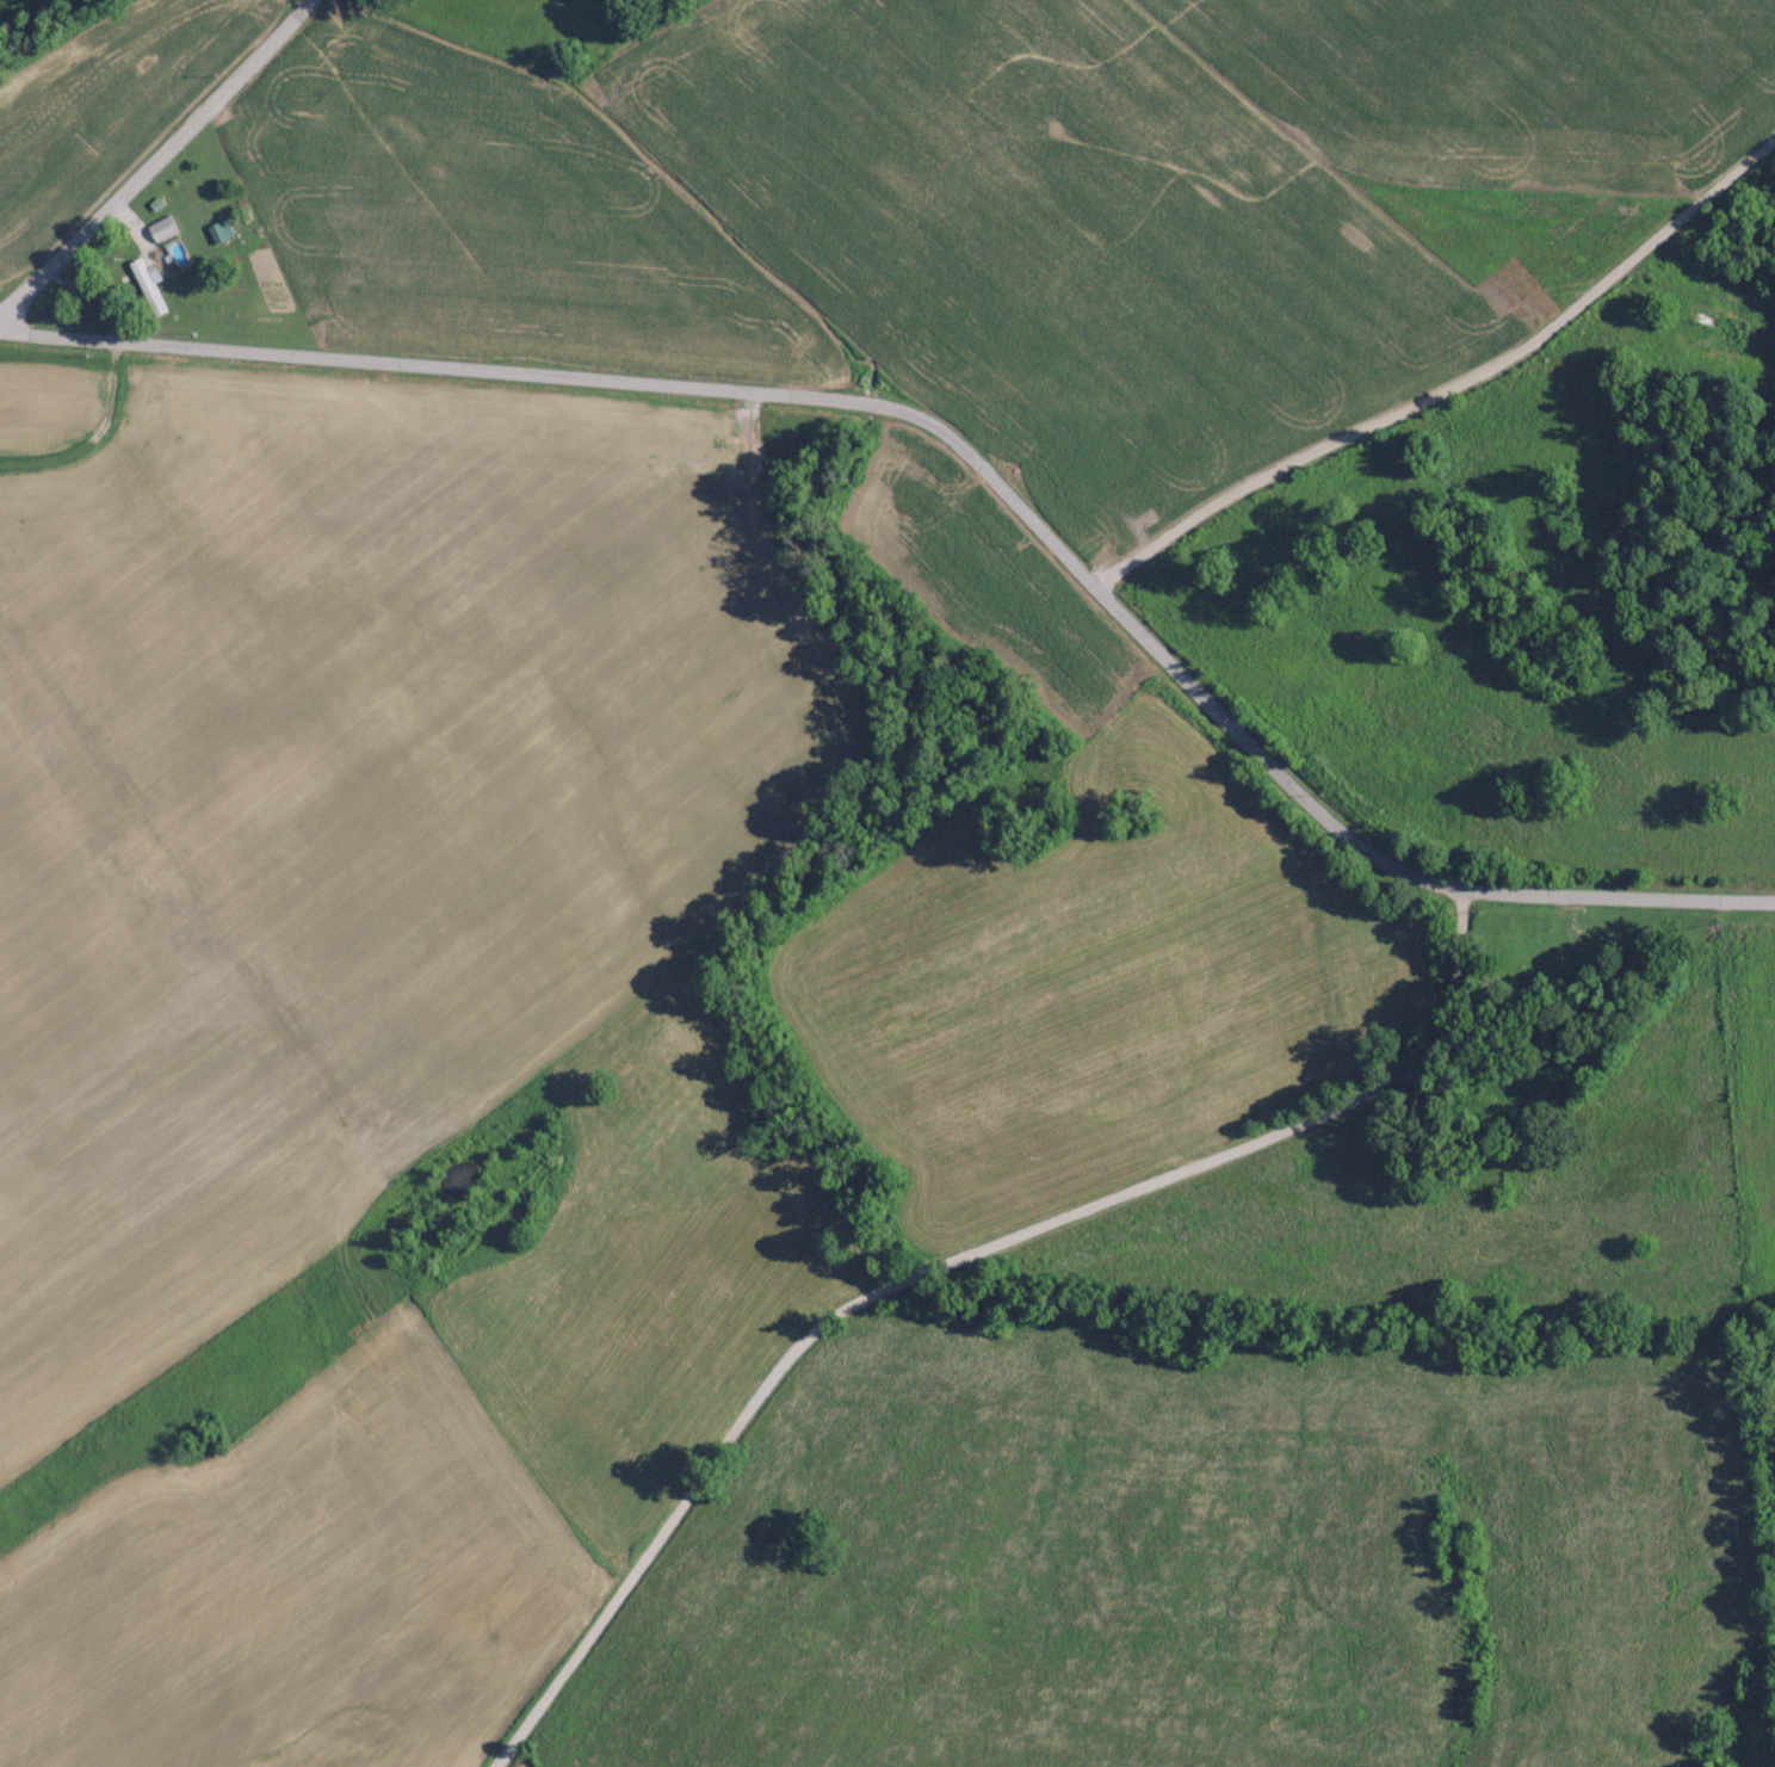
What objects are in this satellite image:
road: (159, 162)
building: (167, 229)
building: (224, 231)
building: (153, 285)
road: (1749, 370)
road: (1452, 388)
road: (965, 450)
park: (1581, 952)
road: (953, 1261)

